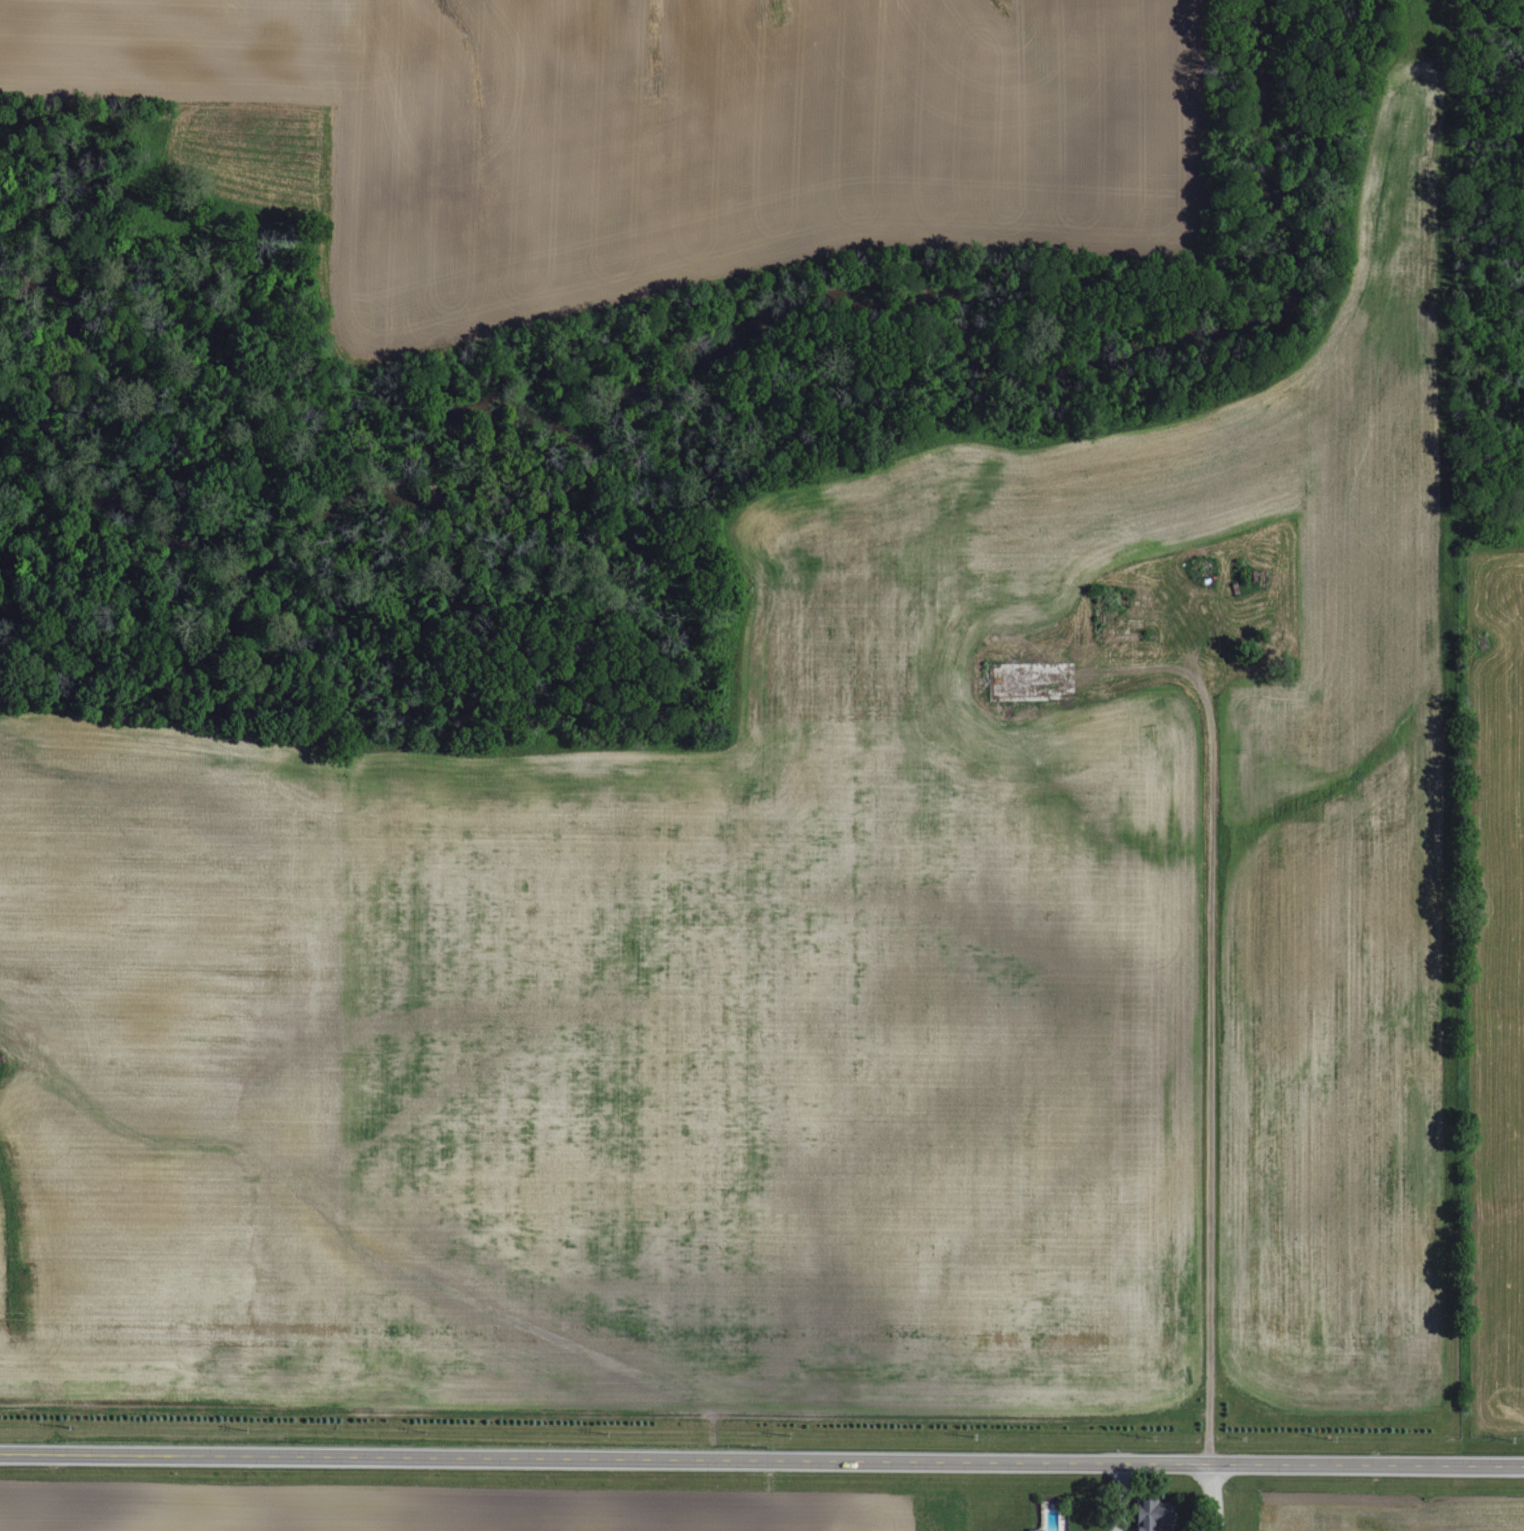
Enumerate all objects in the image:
road: (1213, 1065)
road: (761, 1461)
road: (1123, 1492)
road: (1219, 1492)
building: (1148, 1515)
road: (1124, 1525)
road: (1224, 1525)
building: (1031, 1530)

